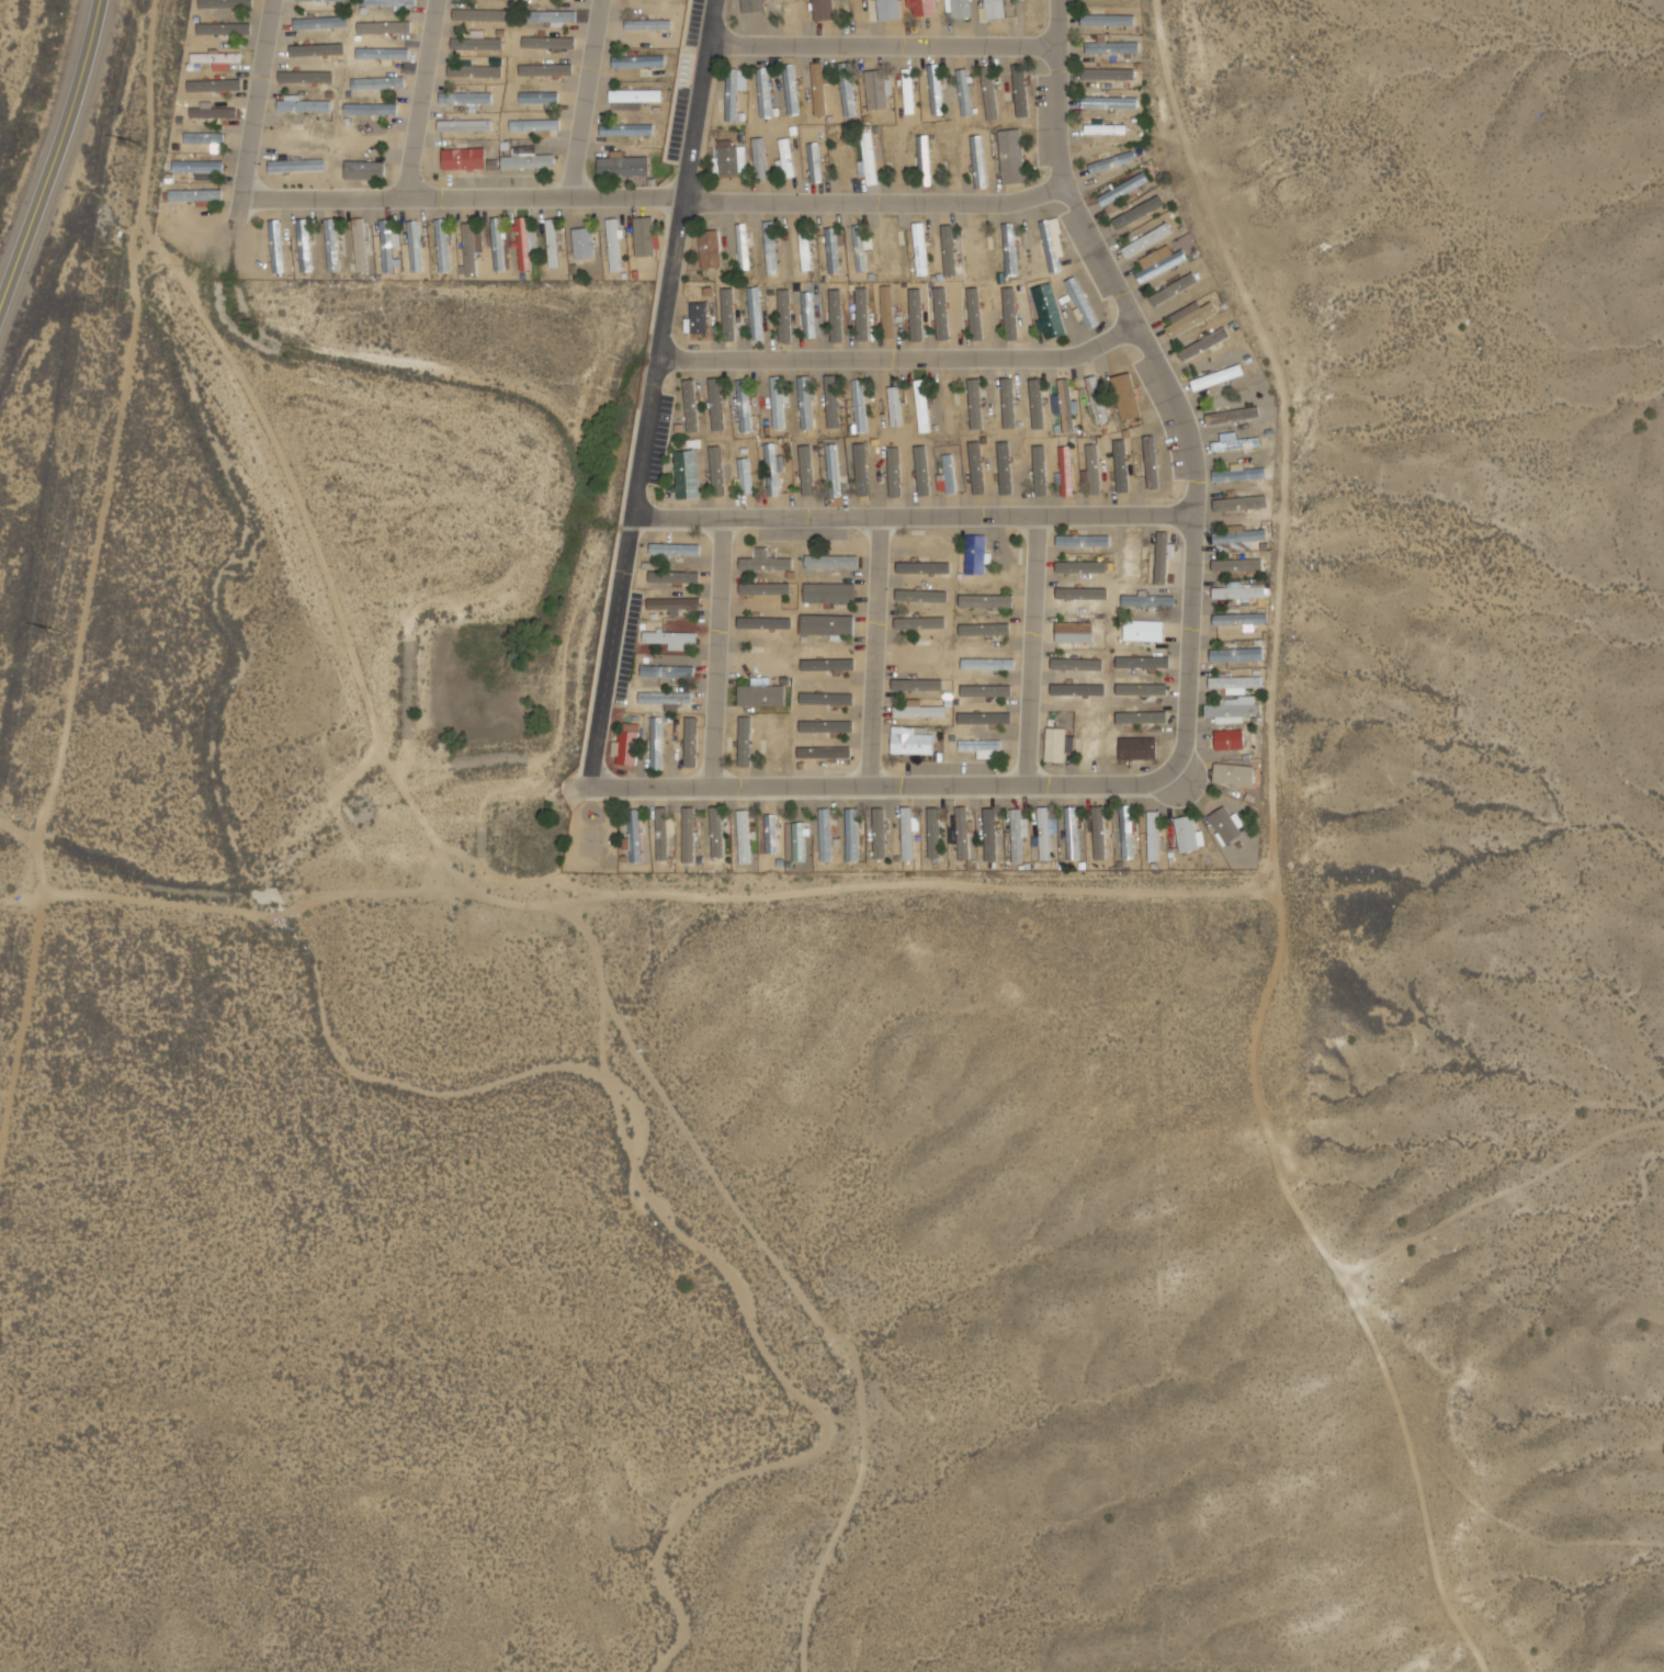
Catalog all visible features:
building: (324, 1)
building: (389, 2)
building: (961, 9)
building: (824, 10)
building: (790, 12)
building: (484, 14)
building: (551, 16)
building: (1109, 20)
building: (653, 25)
building: (484, 35)
building: (474, 42)
road: (891, 42)
building: (1113, 47)
building: (643, 60)
building: (474, 69)
building: (1109, 74)
building: (936, 88)
building: (847, 89)
building: (876, 91)
building: (965, 91)
building: (908, 92)
building: (731, 94)
building: (536, 97)
building: (465, 98)
road: (584, 98)
road: (256, 99)
road: (422, 99)
building: (1110, 102)
building: (307, 105)
building: (371, 108)
building: (539, 124)
building: (464, 125)
building: (1107, 128)
building: (294, 138)
power tower: (138, 146)
road: (56, 158)
building: (463, 158)
building: (528, 158)
building: (869, 158)
building: (842, 159)
building: (731, 160)
building: (924, 160)
building: (815, 161)
building: (1012, 161)
building: (1111, 162)
building: (623, 166)
road: (656, 196)
building: (528, 235)
building: (418, 236)
building: (393, 237)
building: (644, 237)
building: (584, 244)
building: (614, 245)
building: (449, 247)
building: (805, 247)
building: (860, 247)
building: (710, 248)
building: (921, 249)
building: (1010, 249)
building: (834, 250)
building: (502, 252)
building: (1050, 310)
building: (887, 312)
building: (698, 317)
road: (901, 355)
building: (1215, 371)
road: (1167, 383)
road: (652, 393)
building: (1127, 397)
building: (1097, 399)
building: (806, 405)
building: (744, 406)
building: (834, 406)
building: (860, 406)
building: (922, 406)
building: (1065, 406)
building: (1152, 462)
building: (1122, 463)
building: (1094, 467)
building: (771, 468)
building: (834, 470)
building: (861, 470)
building: (1066, 471)
building: (687, 474)
building: (745, 476)
road: (917, 516)
building: (1242, 534)
building: (1082, 540)
building: (672, 545)
building: (975, 554)
building: (826, 560)
building: (985, 601)
building: (1148, 601)
building: (673, 603)
building: (1144, 631)
power tower: (59, 633)
building: (671, 639)
road: (1031, 651)
road: (874, 652)
road: (716, 653)
building: (925, 654)
building: (668, 671)
building: (1239, 689)
building: (983, 719)
building: (632, 720)
building: (657, 744)
building: (912, 744)
building: (627, 748)
road: (885, 787)
building: (1227, 818)
building: (1192, 826)
building: (717, 833)
building: (963, 834)
building: (991, 834)
building: (1044, 834)
building: (1073, 834)
building: (1099, 834)
building: (663, 835)
building: (852, 835)
building: (880, 835)
building: (908, 835)
building: (935, 835)
building: (636, 836)
building: (1017, 836)
building: (746, 837)
building: (800, 843)

